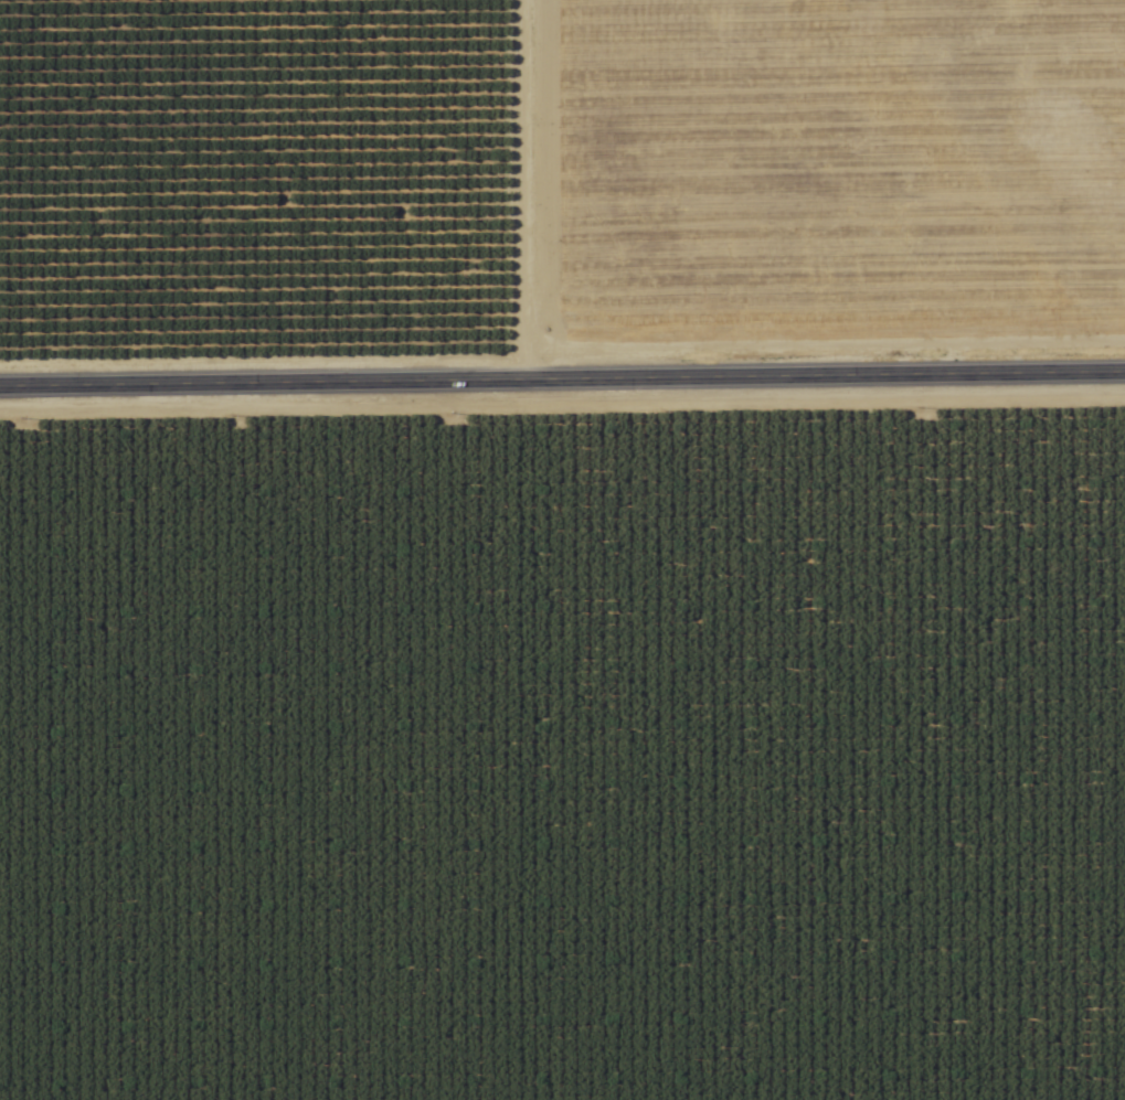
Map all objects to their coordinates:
crop: (559, 179)
road: (562, 377)
crop: (562, 549)
crop: (564, 756)

